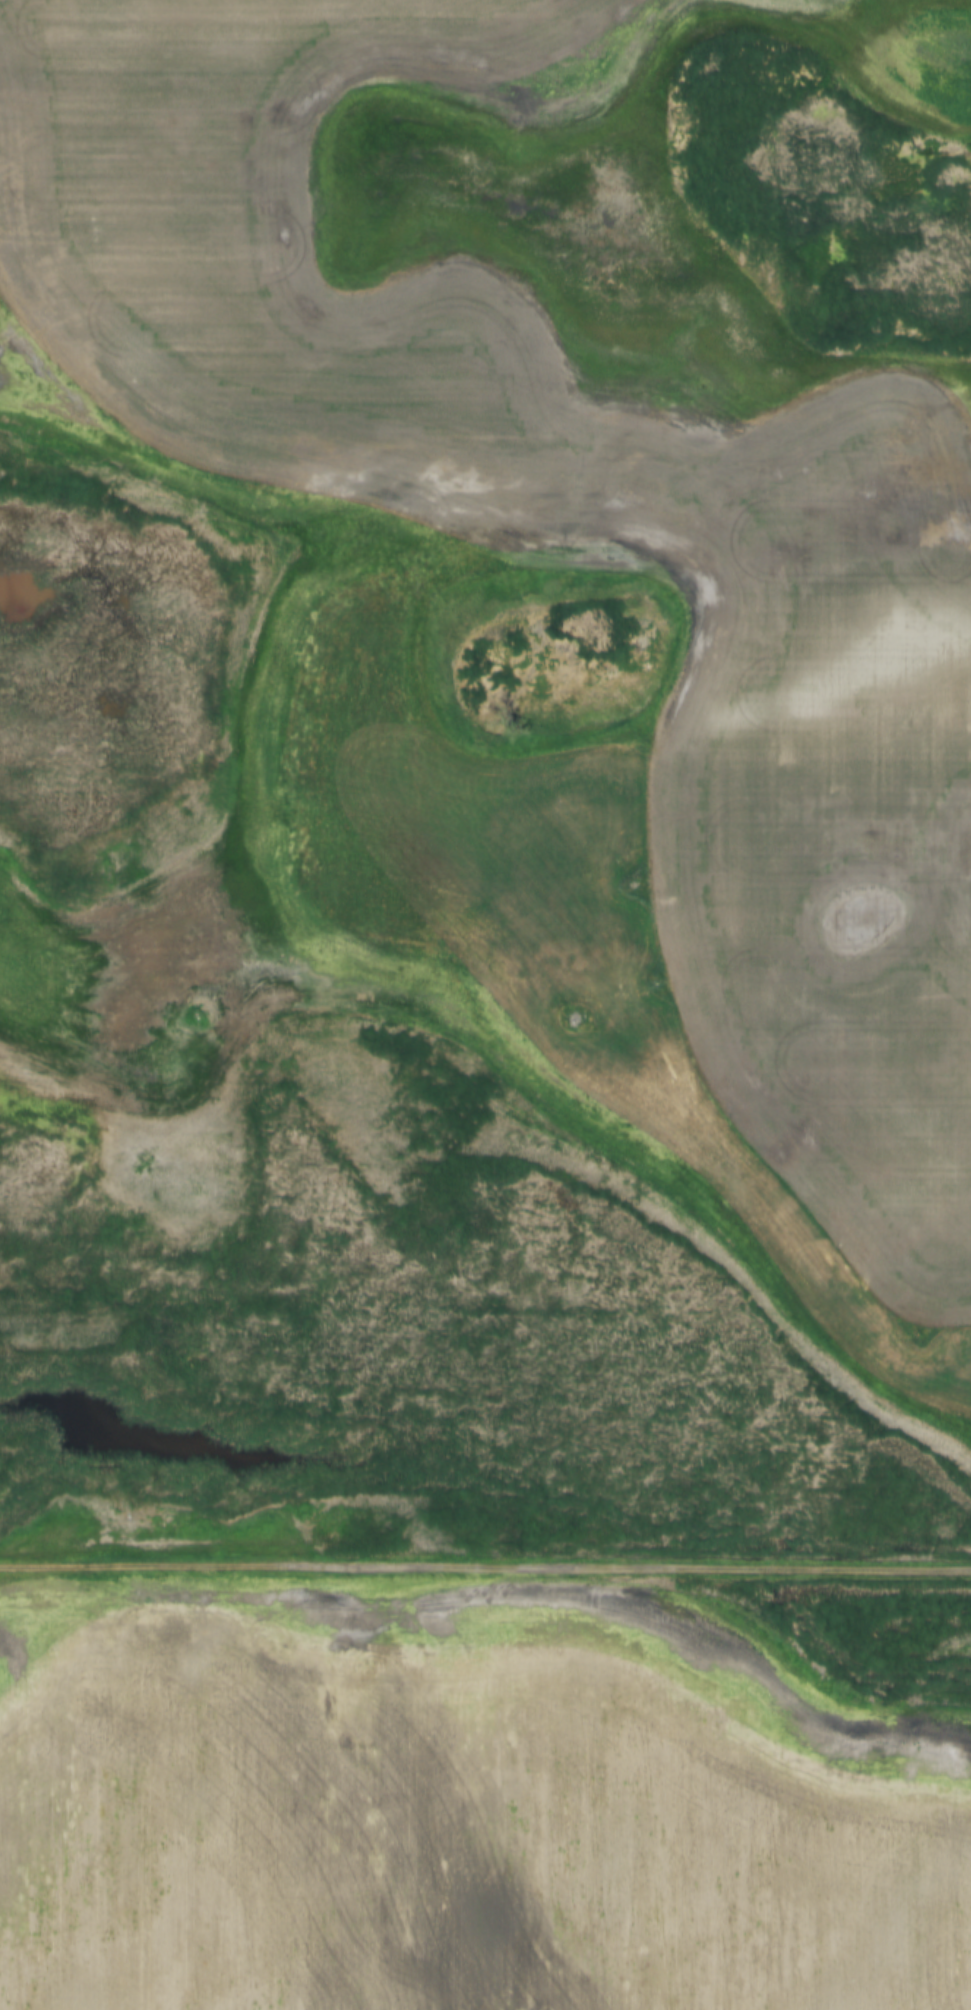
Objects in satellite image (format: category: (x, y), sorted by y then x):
road: (485, 1566)

